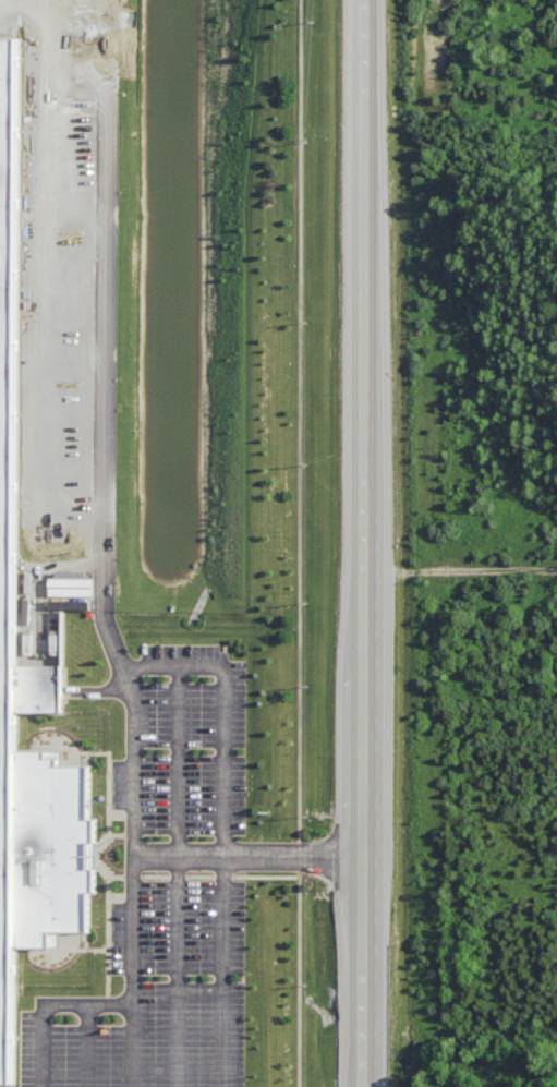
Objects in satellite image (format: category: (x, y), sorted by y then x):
road: (107, 345)
road: (363, 543)
road: (460, 573)
road: (181, 667)
building: (28, 683)
road: (299, 845)
road: (232, 853)
road: (298, 860)
road: (180, 877)
road: (134, 967)
road: (226, 969)
road: (133, 1046)
road: (89, 1047)

